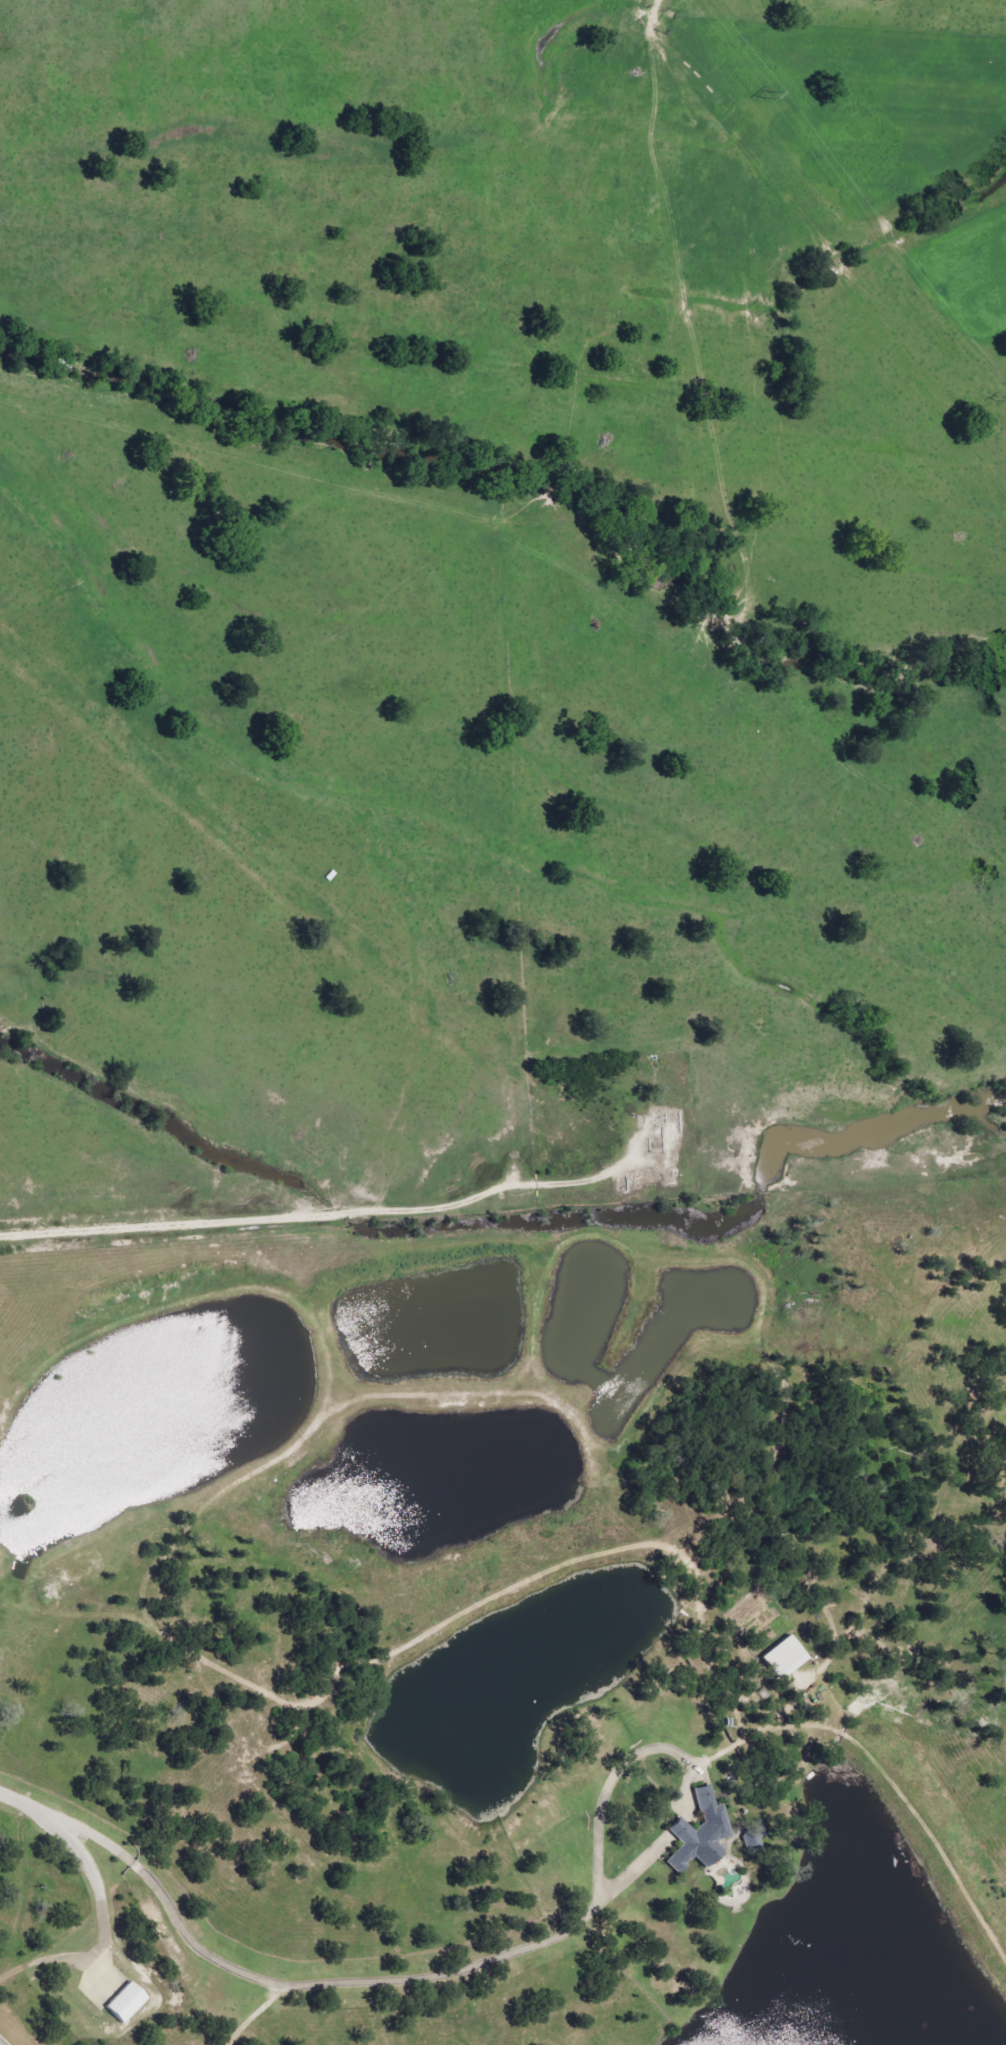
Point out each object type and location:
power tower: (762, 96)
power tower: (995, 401)
building: (781, 1657)
building: (696, 1832)
building: (122, 2002)

